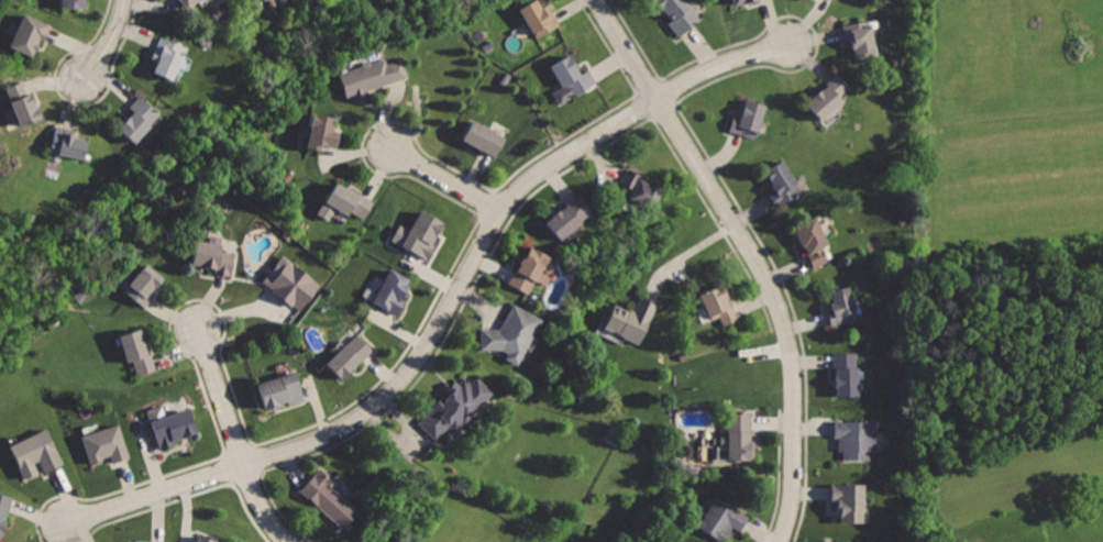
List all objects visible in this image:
building: (831, 0)
building: (267, 1)
building: (188, 2)
building: (742, 2)
building: (71, 3)
building: (540, 15)
building: (682, 15)
building: (29, 33)
building: (861, 38)
road: (108, 41)
building: (168, 55)
building: (574, 76)
building: (374, 77)
building: (827, 97)
building: (24, 102)
building: (140, 119)
building: (748, 121)
building: (323, 132)
building: (485, 139)
building: (68, 144)
road: (445, 181)
building: (783, 182)
building: (640, 188)
building: (351, 201)
building: (570, 215)
building: (423, 234)
building: (813, 241)
road: (751, 254)
road: (685, 256)
building: (218, 257)
building: (530, 269)
building: (290, 283)
building: (145, 286)
building: (393, 291)
building: (720, 303)
building: (841, 307)
road: (448, 309)
building: (632, 319)
building: (511, 333)
building: (139, 349)
building: (350, 356)
building: (847, 374)
building: (282, 391)
building: (455, 406)
building: (174, 427)
building: (858, 435)
building: (739, 438)
road: (236, 440)
building: (108, 442)
building: (38, 452)
building: (330, 499)
building: (848, 500)
building: (4, 512)
building: (726, 519)
building: (205, 539)
building: (845, 541)

